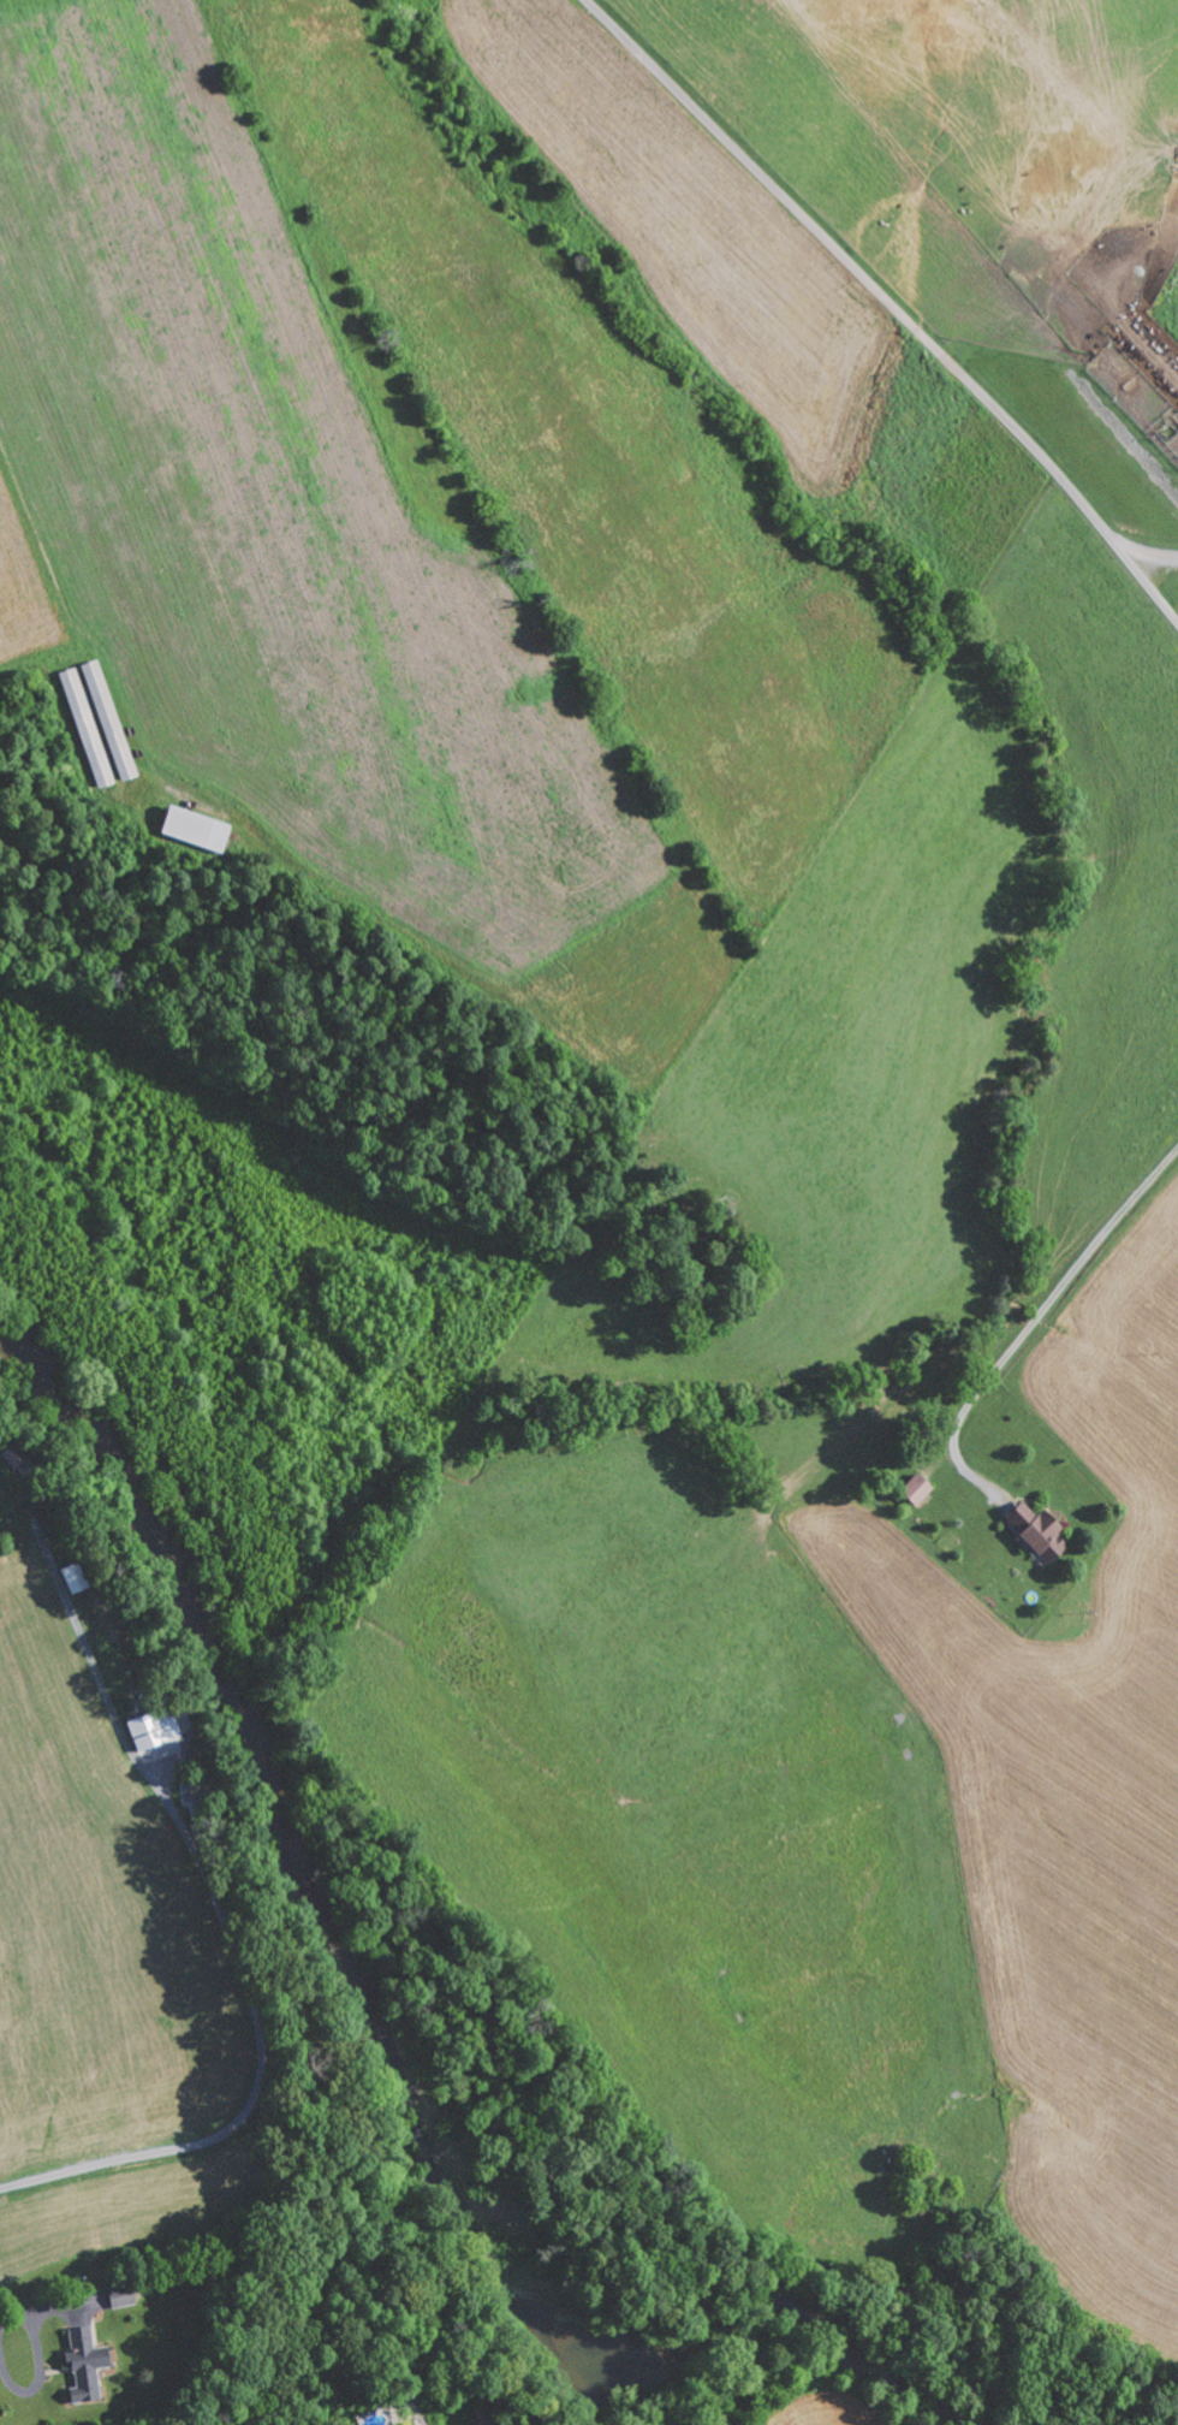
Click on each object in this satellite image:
road: (892, 301)
building: (197, 829)
building: (921, 1489)
building: (1041, 1532)
building: (156, 1729)
building: (124, 2296)
building: (89, 2365)
building: (506, 2423)

